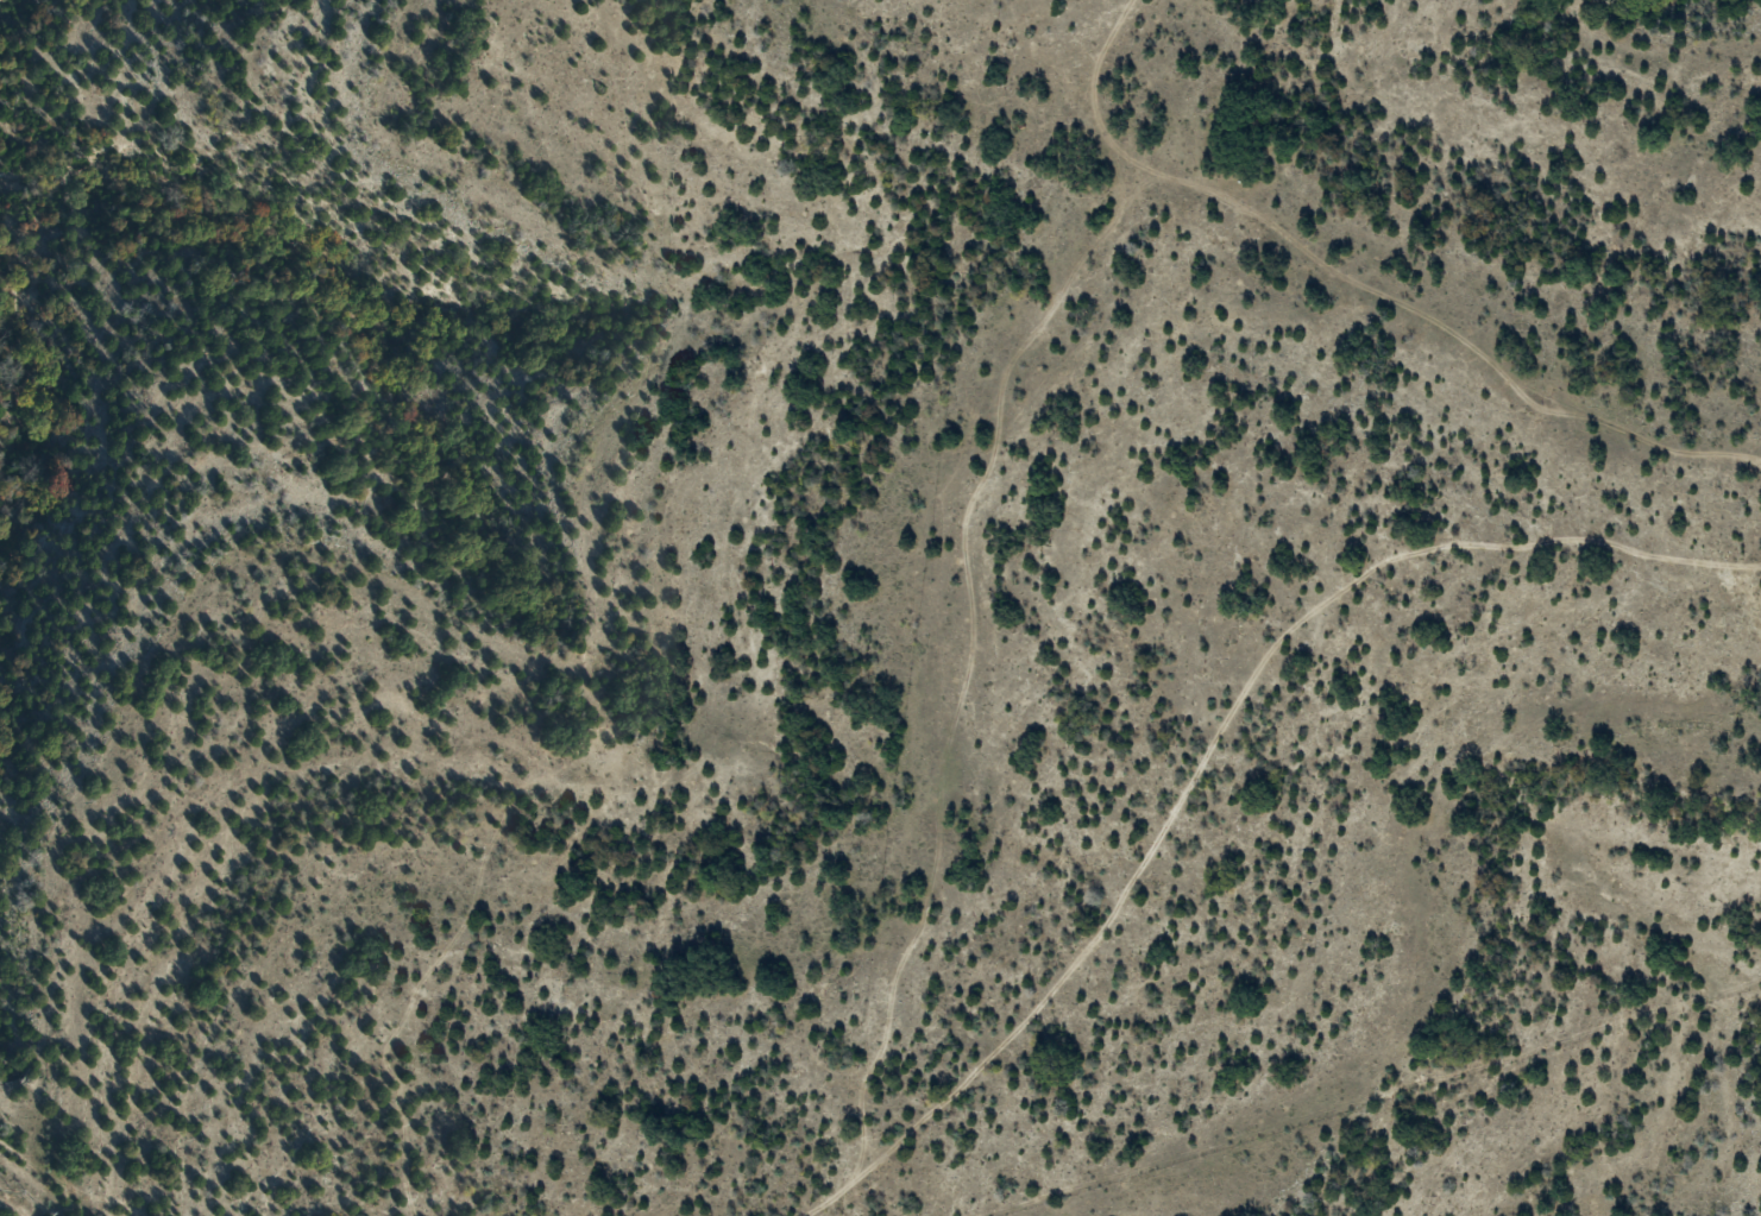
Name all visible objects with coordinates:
road: (1215, 748)

